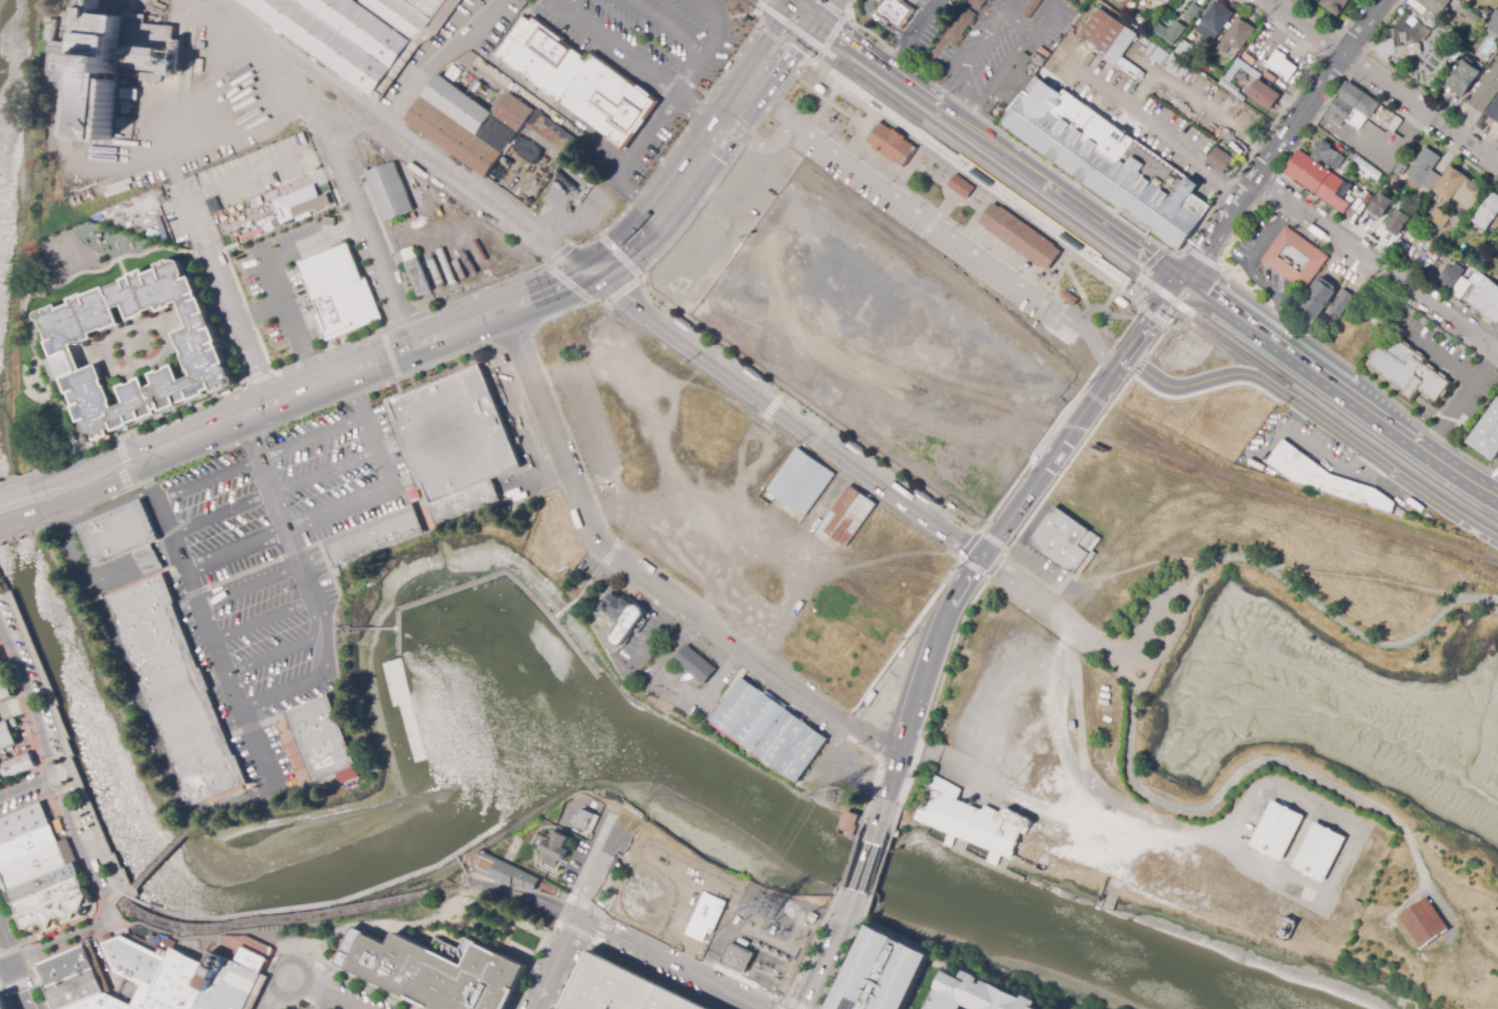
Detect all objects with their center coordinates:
road: (787, 1)
road: (791, 1)
traffic signals: (790, 3)
building: (975, 5)
building: (1334, 5)
road: (758, 6)
building: (894, 6)
building: (1437, 6)
building: (1119, 7)
building: (1031, 8)
road: (822, 10)
road: (802, 12)
building: (1193, 14)
building: (1468, 14)
road: (739, 15)
road: (1012, 16)
road: (71, 19)
traffic signals: (815, 21)
building: (1215, 21)
road: (924, 22)
building: (1493, 22)
road: (1334, 23)
road: (722, 25)
road: (836, 25)
road: (880, 26)
building: (960, 26)
road: (667, 27)
building: (51, 30)
building: (358, 32)
building: (1169, 32)
railway: (803, 33)
building: (1407, 34)
river: (3, 35)
building: (1238, 35)
road: (766, 36)
building: (1108, 38)
road: (779, 40)
building: (1386, 44)
road: (614, 46)
road: (852, 47)
building: (1184, 49)
road: (791, 54)
road: (733, 55)
road: (435, 58)
road: (900, 59)
road: (67, 60)
parking lot: (654, 62)
building: (199, 66)
building: (1281, 66)
road: (690, 74)
building: (578, 77)
road: (1091, 77)
building: (1463, 78)
building: (105, 81)
road: (1382, 81)
building: (1259, 87)
building: (1486, 92)
road: (973, 96)
road: (740, 98)
road: (826, 100)
road: (825, 103)
building: (1352, 107)
road: (696, 110)
road: (697, 110)
building: (1494, 111)
building: (471, 123)
building: (1395, 124)
road: (857, 133)
road: (399, 134)
building: (548, 134)
road: (646, 136)
road: (929, 141)
road: (1282, 141)
road: (1174, 144)
building: (894, 145)
building: (1327, 155)
road: (164, 160)
building: (1222, 160)
building: (1101, 161)
building: (1402, 165)
road: (912, 166)
building: (1363, 166)
building: (1425, 170)
road: (1036, 177)
road: (972, 181)
building: (1322, 183)
building: (959, 185)
road: (1268, 188)
building: (1459, 189)
road: (945, 190)
building: (391, 191)
road: (637, 194)
road: (270, 198)
building: (309, 203)
road: (665, 203)
railway: (1018, 204)
road: (944, 205)
building: (1381, 206)
building: (1487, 212)
road: (977, 213)
road: (363, 215)
road: (924, 216)
railway: (1060, 217)
road: (946, 218)
building: (1439, 218)
railway: (1059, 219)
building: (1399, 223)
building: (131, 226)
road: (929, 227)
road: (1139, 231)
building: (1497, 231)
building: (153, 232)
parking lot: (938, 234)
building: (1023, 238)
building: (1491, 242)
building: (1485, 248)
building: (1471, 254)
road: (620, 256)
road: (1221, 258)
building: (1295, 258)
road: (1202, 259)
road: (1377, 265)
road: (1144, 266)
road: (1107, 267)
road: (1056, 269)
building: (419, 271)
road: (555, 273)
building: (1451, 276)
road: (276, 277)
traffic signals: (1183, 282)
road: (1076, 285)
building: (1460, 288)
building: (338, 289)
road: (548, 289)
road: (621, 290)
road: (1172, 294)
building: (1484, 296)
road: (1109, 298)
building: (1071, 299)
building: (1123, 300)
building: (1317, 300)
building: (1342, 303)
road: (1183, 306)
road: (1101, 308)
road: (1158, 313)
road: (262, 314)
road: (1058, 315)
road: (1119, 317)
road: (1153, 317)
road: (1139, 337)
road: (242, 338)
road: (1156, 341)
building: (203, 343)
road: (677, 356)
road: (1121, 362)
road: (1138, 365)
building: (1408, 375)
road: (322, 383)
road: (1339, 390)
road: (771, 405)
road: (785, 413)
road: (809, 413)
road: (1317, 420)
building: (456, 433)
building: (1488, 433)
railway: (1383, 447)
road: (260, 458)
road: (1048, 461)
road: (126, 463)
road: (1068, 463)
road: (86, 467)
road: (263, 474)
building: (802, 479)
building: (1325, 479)
road: (149, 480)
road: (94, 491)
road: (274, 491)
road: (14, 492)
building: (466, 502)
road: (345, 505)
building: (849, 514)
road: (19, 519)
building: (119, 532)
building: (376, 537)
building: (1065, 540)
building: (145, 552)
parking lot: (277, 562)
building: (152, 564)
road: (301, 568)
pier: (496, 575)
road: (986, 576)
road: (645, 577)
road: (1297, 581)
road: (250, 585)
park: (591, 586)
road: (798, 603)
road: (1055, 610)
parking lot: (1162, 611)
road: (263, 618)
building: (623, 618)
road: (362, 628)
road: (656, 629)
road: (1152, 630)
road: (216, 644)
road: (283, 650)
road: (933, 652)
building: (1, 662)
building: (695, 665)
road: (313, 676)
building: (5, 682)
building: (177, 688)
road: (28, 701)
building: (1073, 725)
building: (6, 729)
building: (771, 730)
building: (323, 740)
river: (521, 752)
building: (16, 761)
road: (894, 778)
road: (1322, 779)
road: (28, 786)
road: (1100, 791)
power tower: (839, 797)
road: (241, 801)
building: (24, 816)
road: (197, 818)
building: (589, 822)
building: (973, 822)
building: (850, 823)
building: (1279, 831)
building: (28, 842)
building: (558, 848)
building: (1323, 848)
road: (80, 849)
road: (159, 856)
road: (591, 857)
road: (866, 861)
building: (35, 863)
building: (511, 875)
building: (47, 880)
park: (1437, 880)
road: (118, 893)
road: (526, 898)
road: (582, 905)
building: (60, 907)
power tower: (773, 910)
building: (704, 916)
road: (578, 920)
building: (1421, 921)
road: (589, 922)
road: (601, 922)
road: (554, 931)
road: (582, 934)
power substation: (761, 934)
road: (336, 935)
road: (63, 943)
road: (25, 946)
road: (12, 949)
building: (245, 951)
road: (687, 954)
road: (312, 957)
building: (737, 957)
road: (618, 960)
building: (135, 961)
road: (824, 965)
traffic signals: (12, 967)
road: (679, 967)
road: (6, 969)
road: (13, 970)
building: (883, 973)
building: (436, 974)
road: (531, 974)
building: (69, 978)
building: (176, 982)
road: (17, 983)
building: (224, 984)
road: (317, 984)
building: (621, 990)
road: (280, 992)
road: (323, 992)
building: (979, 994)
building: (142, 998)
road: (5, 999)
road: (305, 1000)
building: (96, 1002)
road: (271, 1002)
road: (787, 1003)
building: (1, 1005)
building: (121, 1005)
parking lot: (301, 1007)

